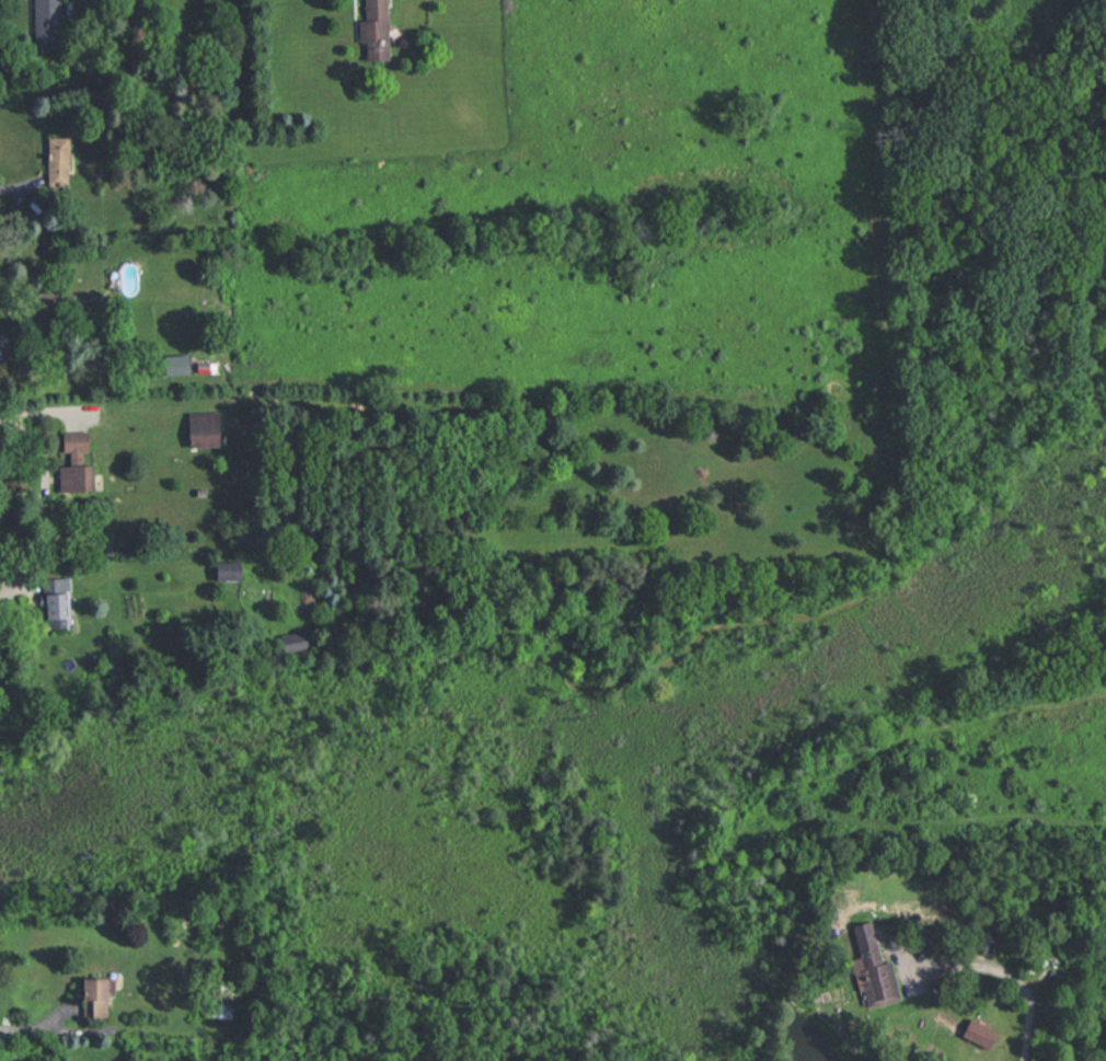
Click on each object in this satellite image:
building: (369, 31)
building: (54, 162)
road: (18, 182)
building: (223, 573)
building: (875, 985)
road: (1025, 992)
building: (216, 1000)
building: (93, 1006)
road: (35, 1028)

